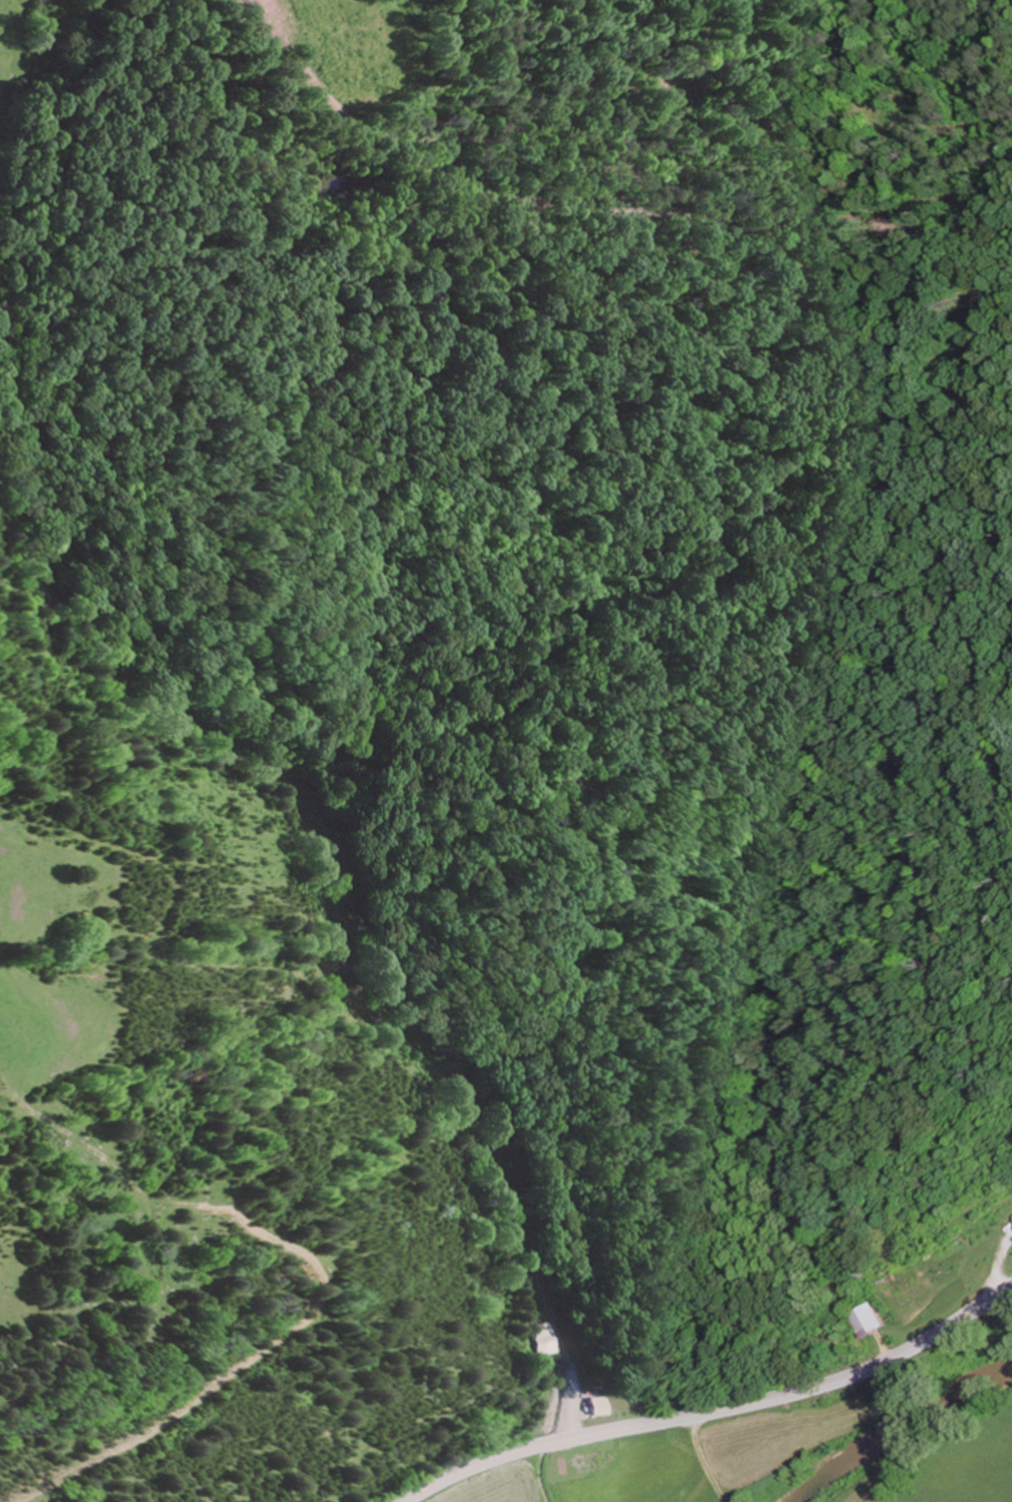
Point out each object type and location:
building: (871, 1318)
building: (549, 1338)
building: (603, 1405)
road: (717, 1410)

